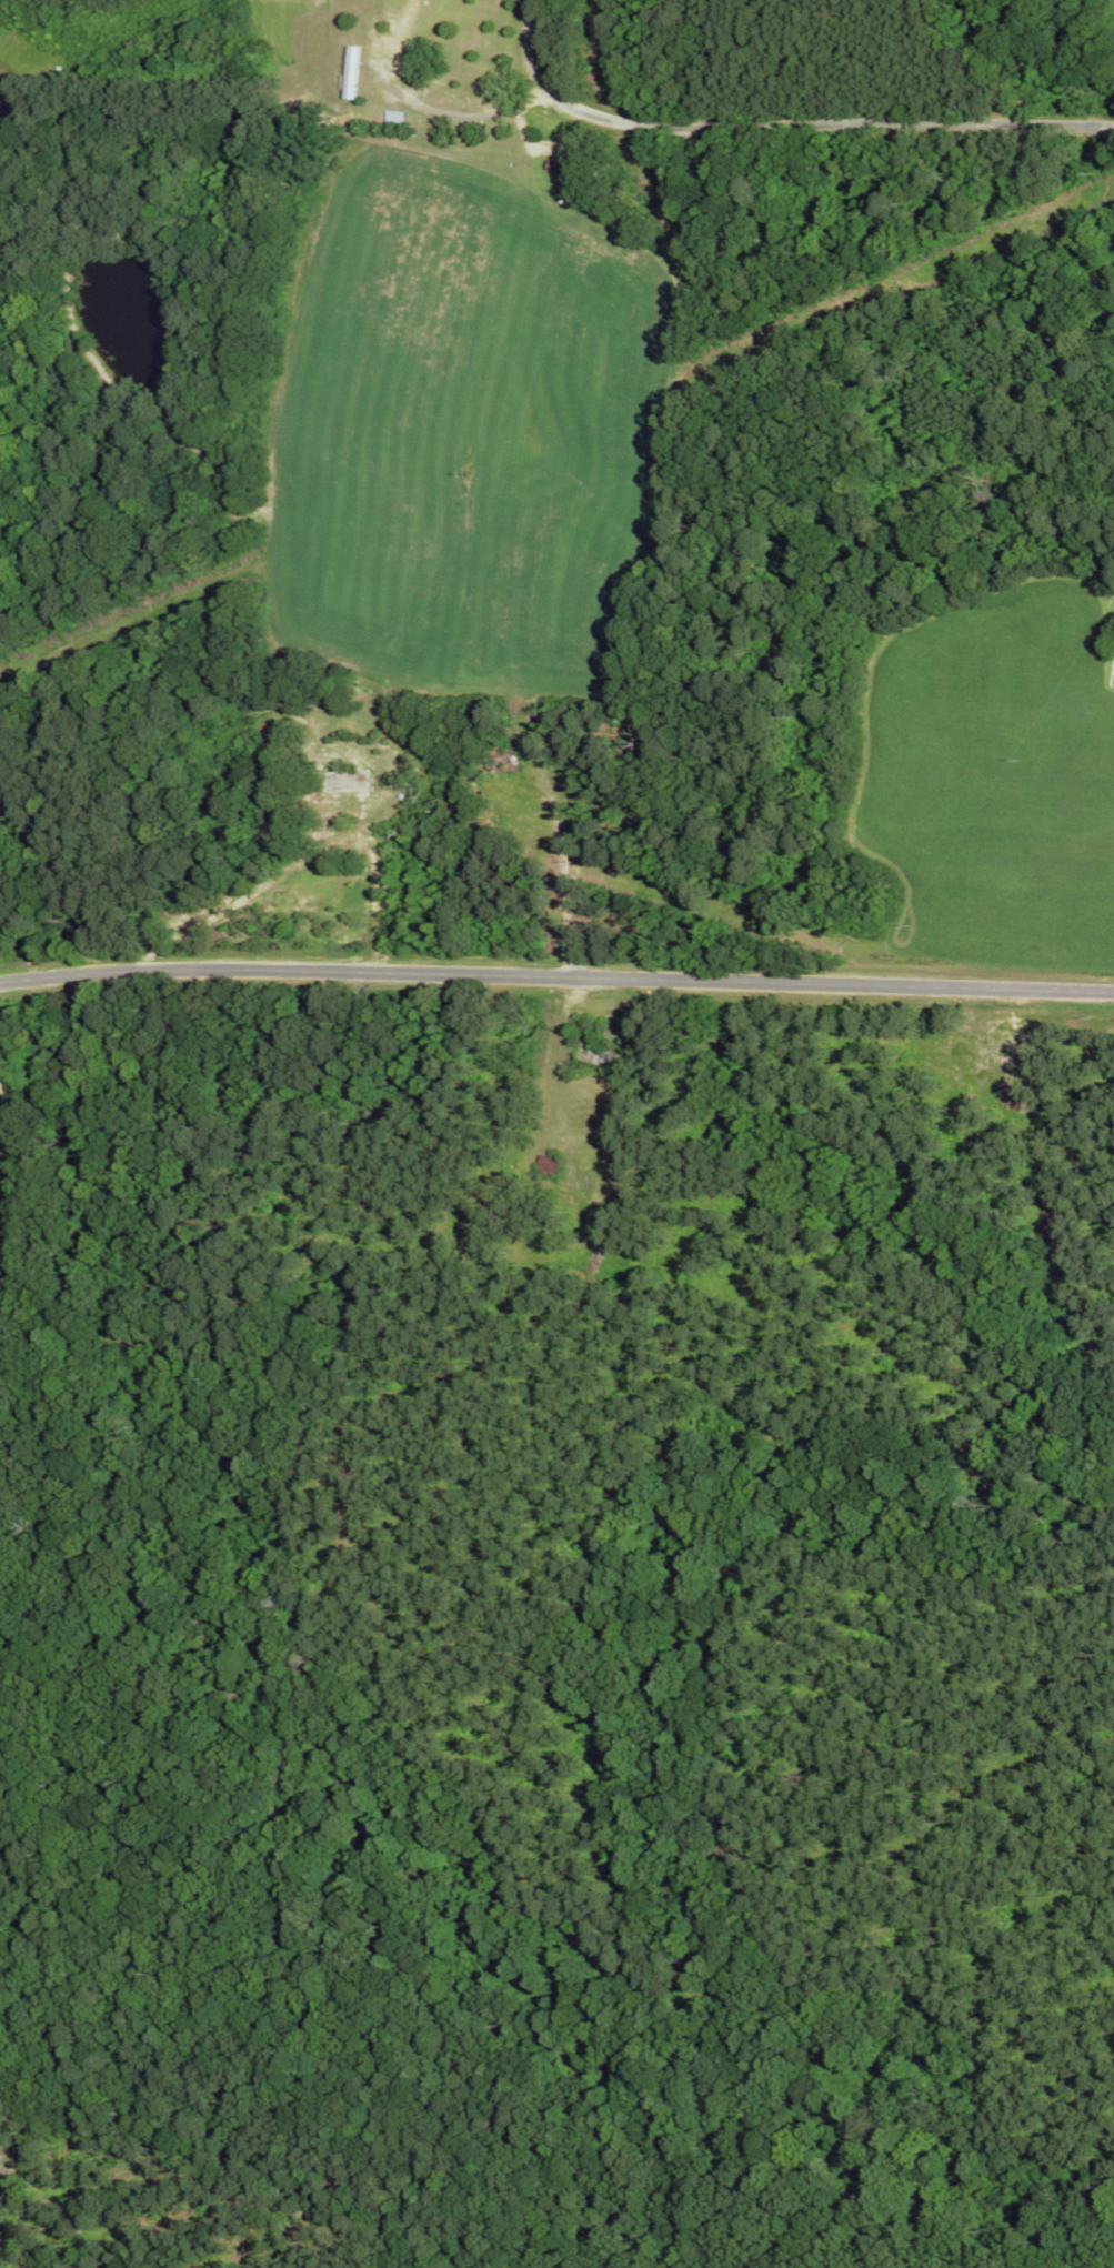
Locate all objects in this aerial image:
road: (425, 102)
building: (395, 122)
road: (776, 129)
building: (501, 759)
building: (347, 785)
road: (586, 980)
road: (30, 983)
building: (552, 1171)
building: (12, 1278)

